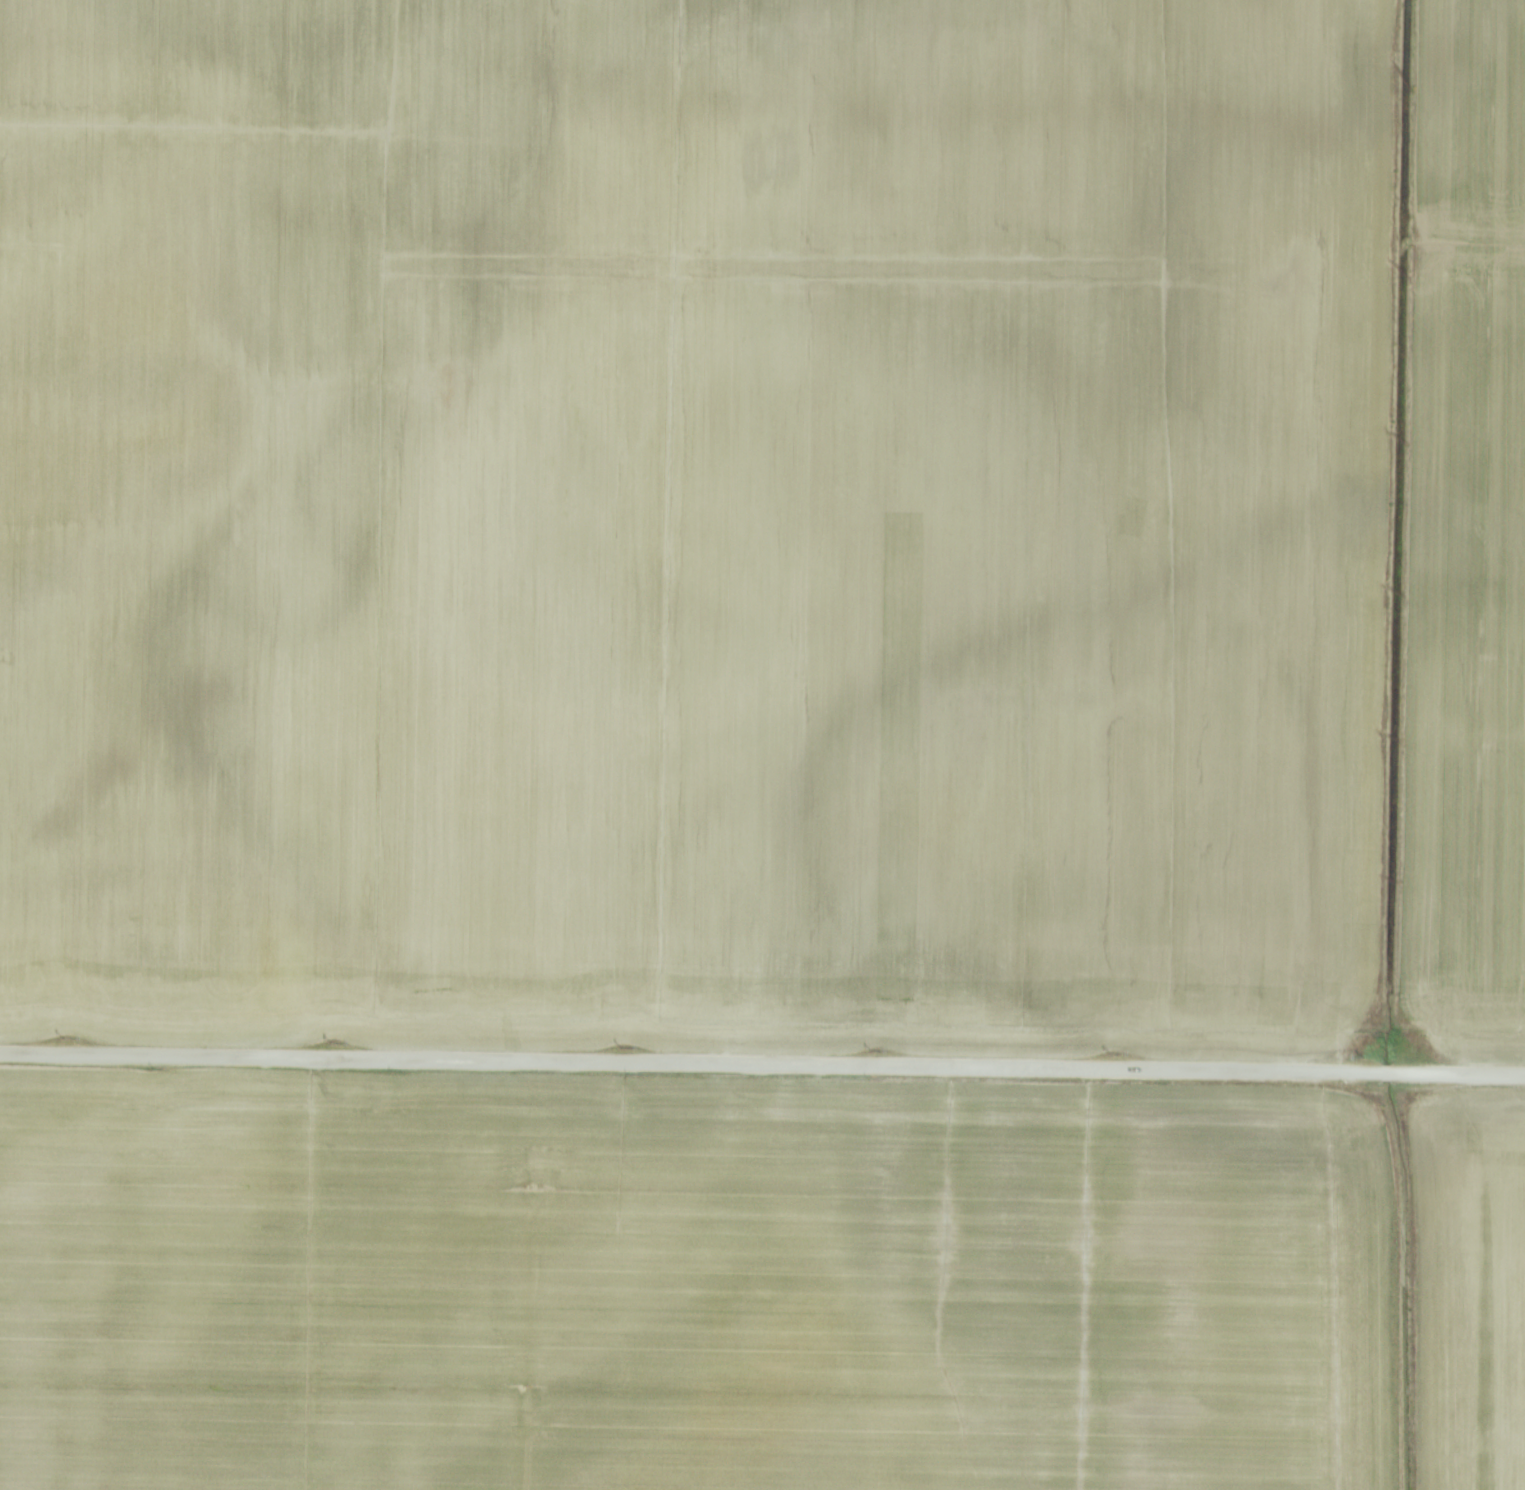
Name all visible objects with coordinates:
road: (762, 1059)

